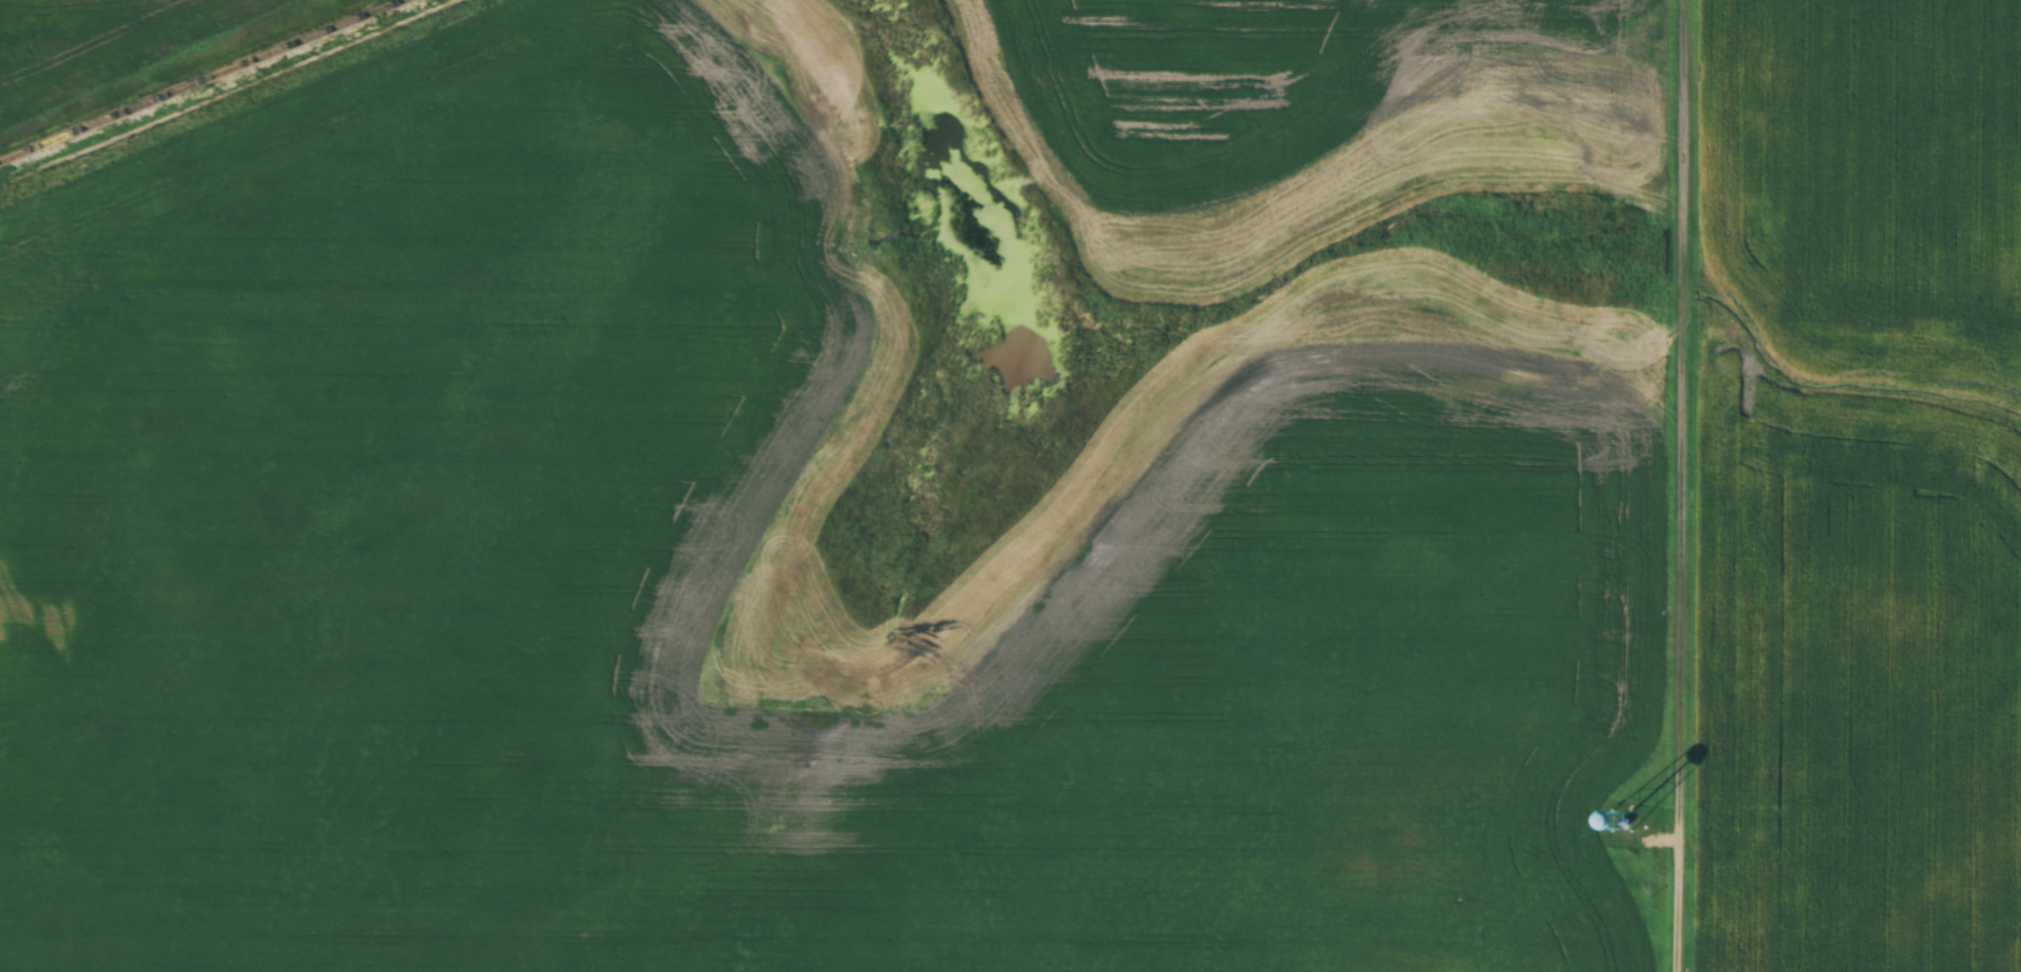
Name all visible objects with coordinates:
railway: (190, 77)
road: (1677, 485)

